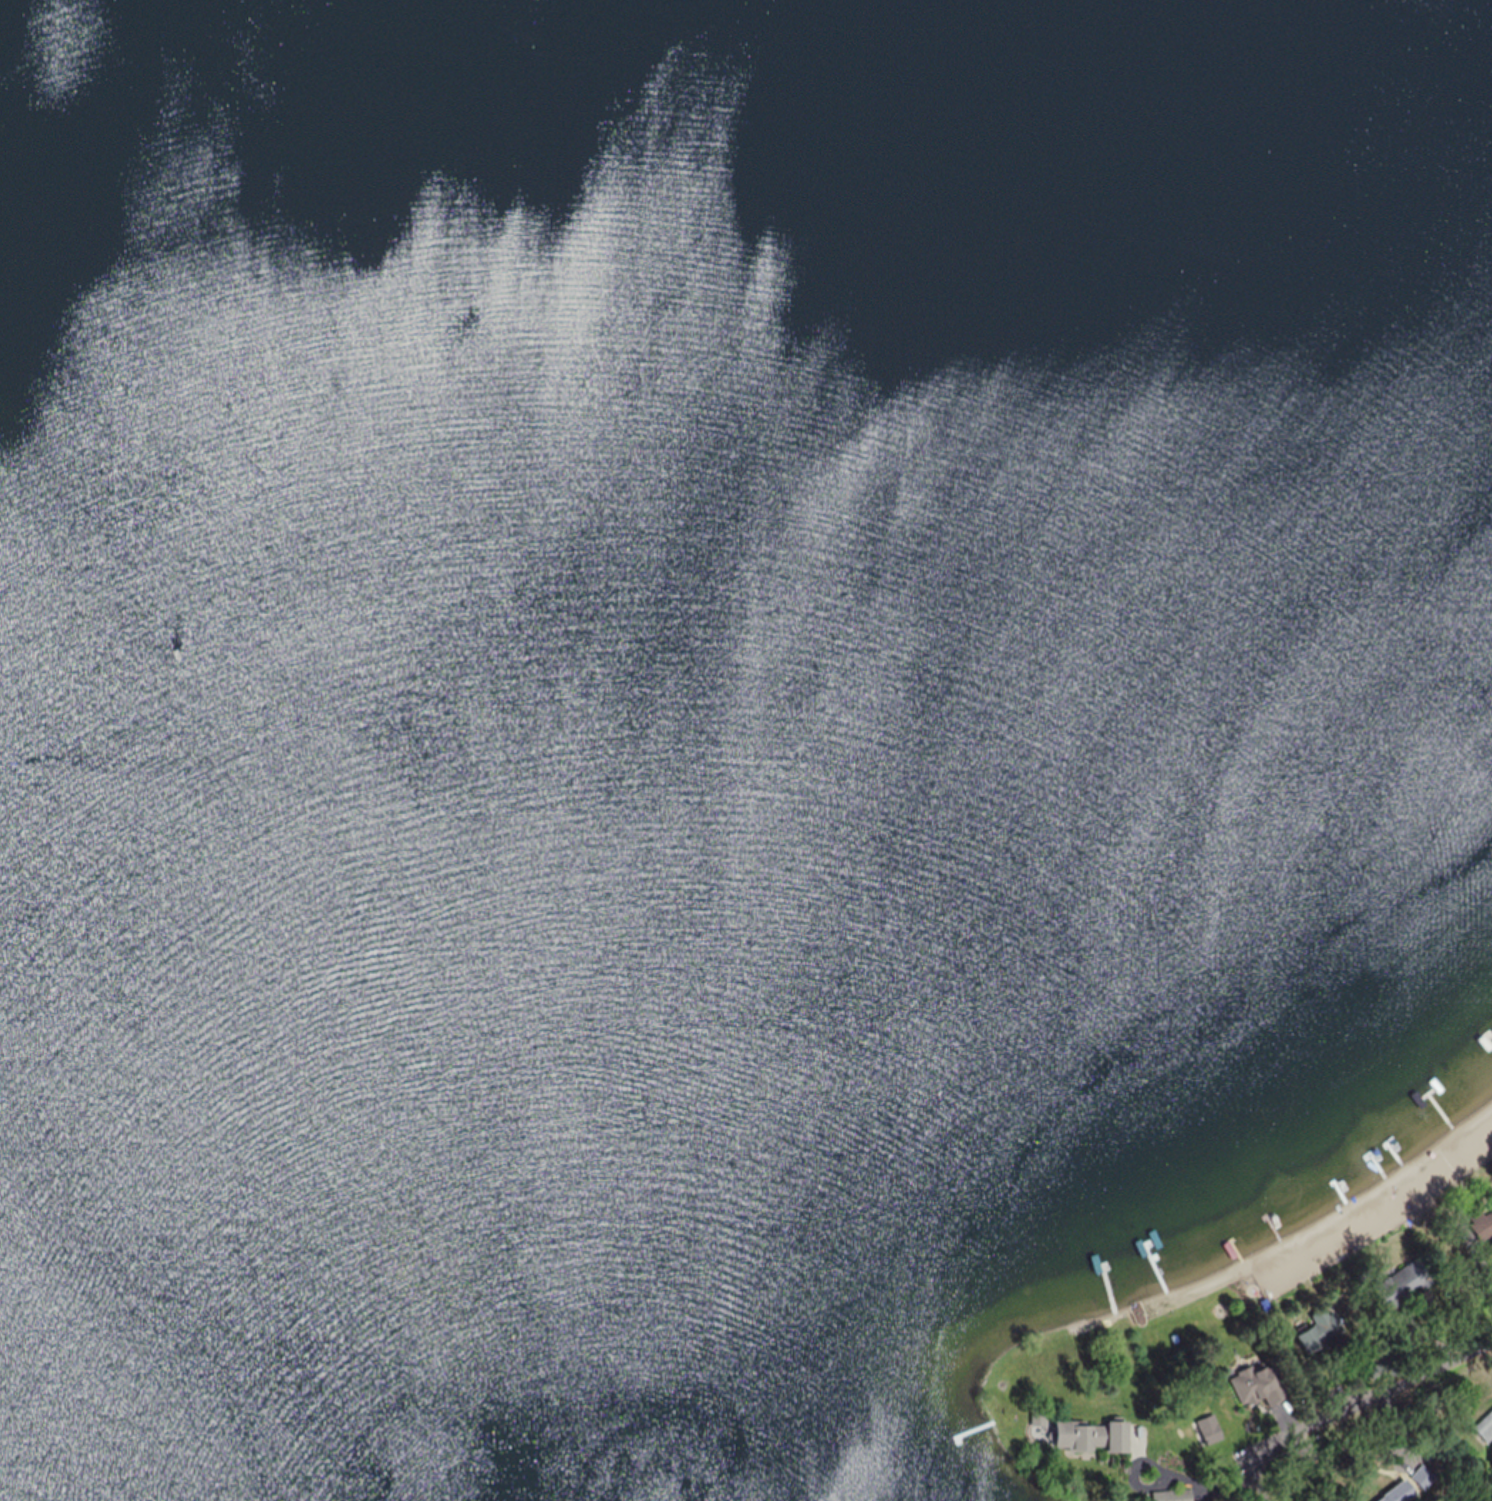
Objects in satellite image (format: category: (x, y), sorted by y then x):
building: (1480, 1227)
building: (1398, 1285)
building: (1319, 1330)
road: (1368, 1404)
building: (1485, 1428)
building: (1111, 1435)
building: (1072, 1436)
building: (1422, 1476)
building: (1398, 1491)
building: (1176, 1494)

